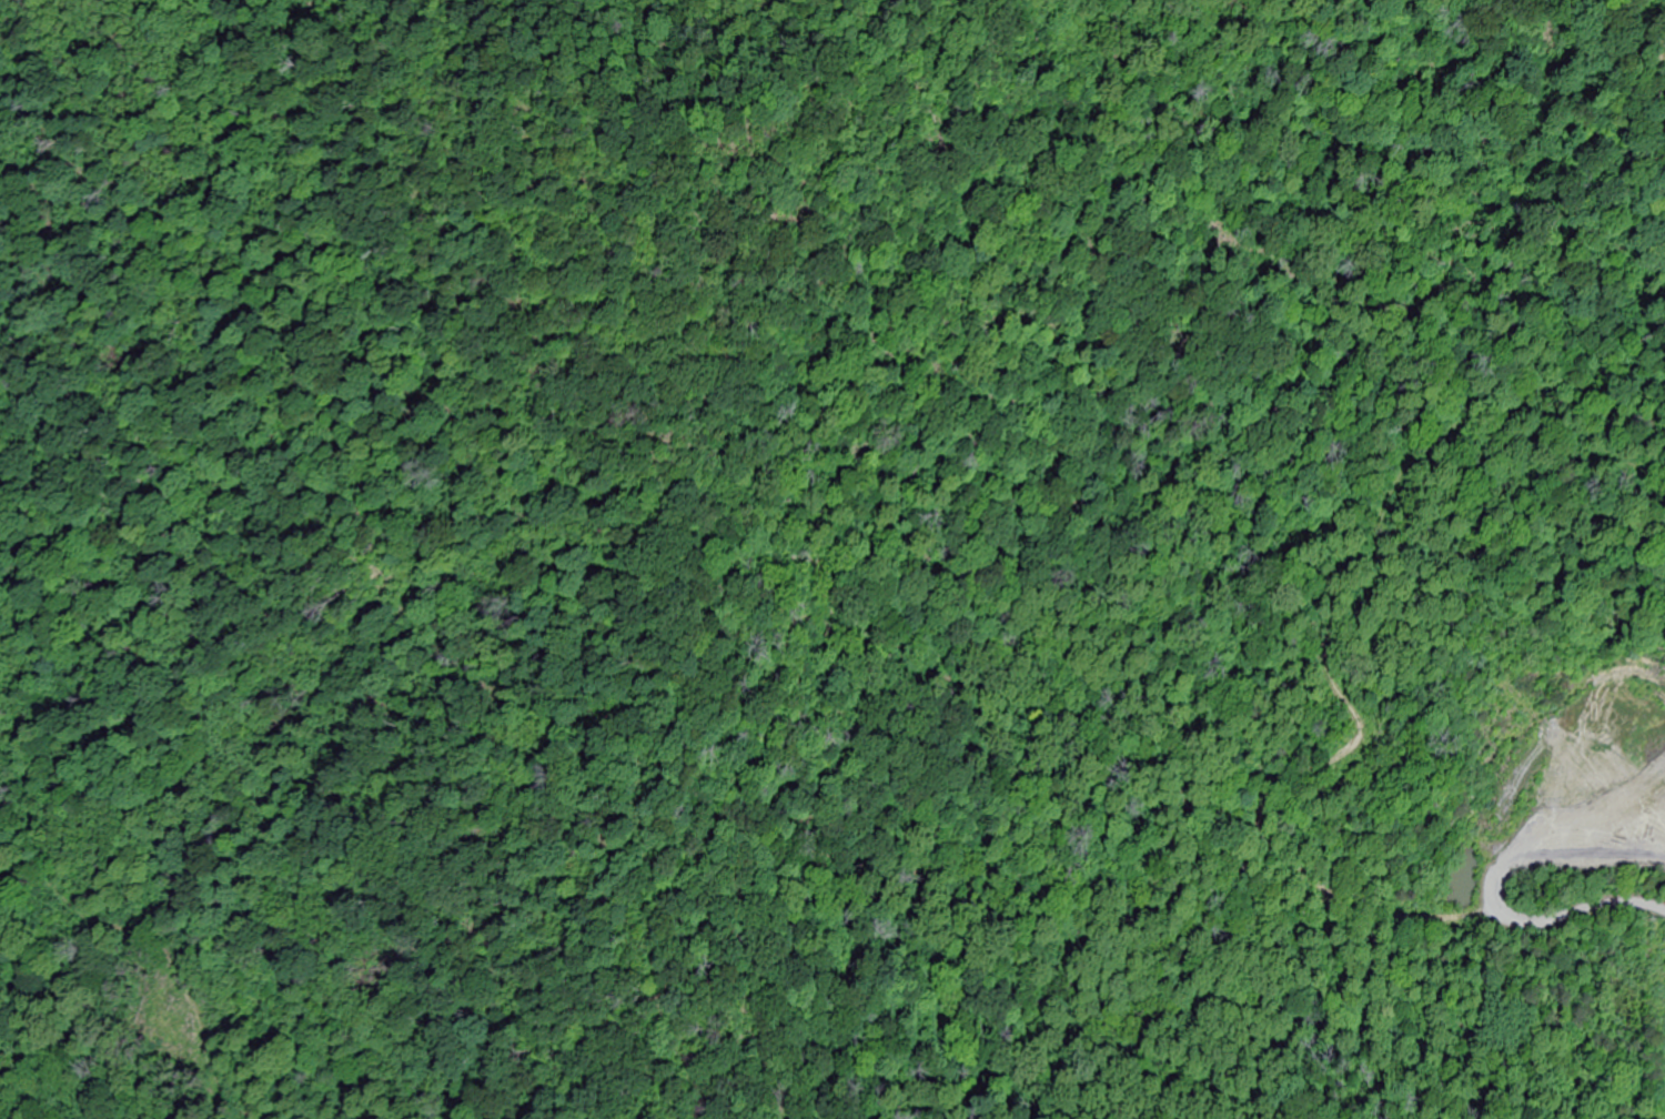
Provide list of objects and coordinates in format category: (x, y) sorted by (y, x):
road: (1580, 907)

